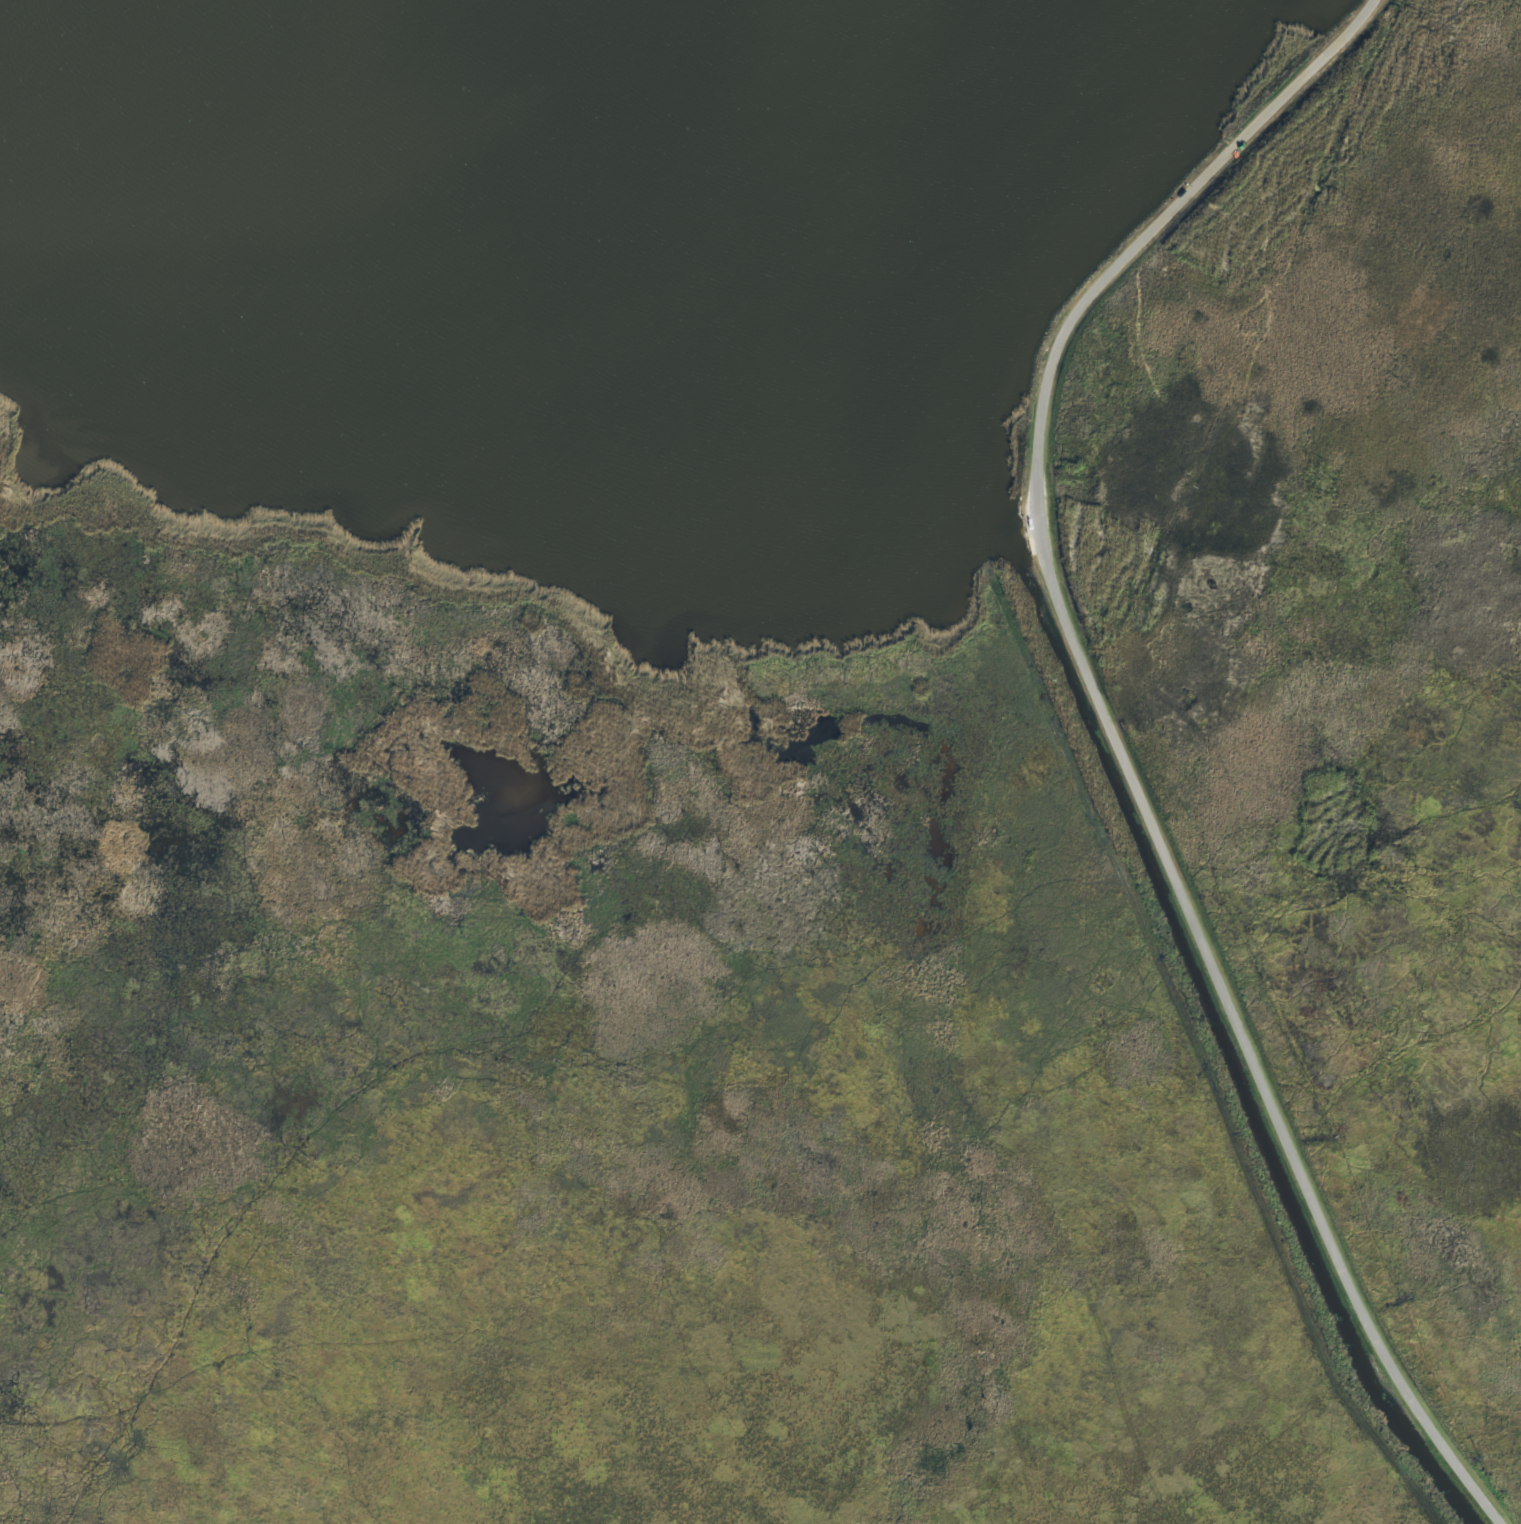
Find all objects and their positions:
road: (1119, 739)

